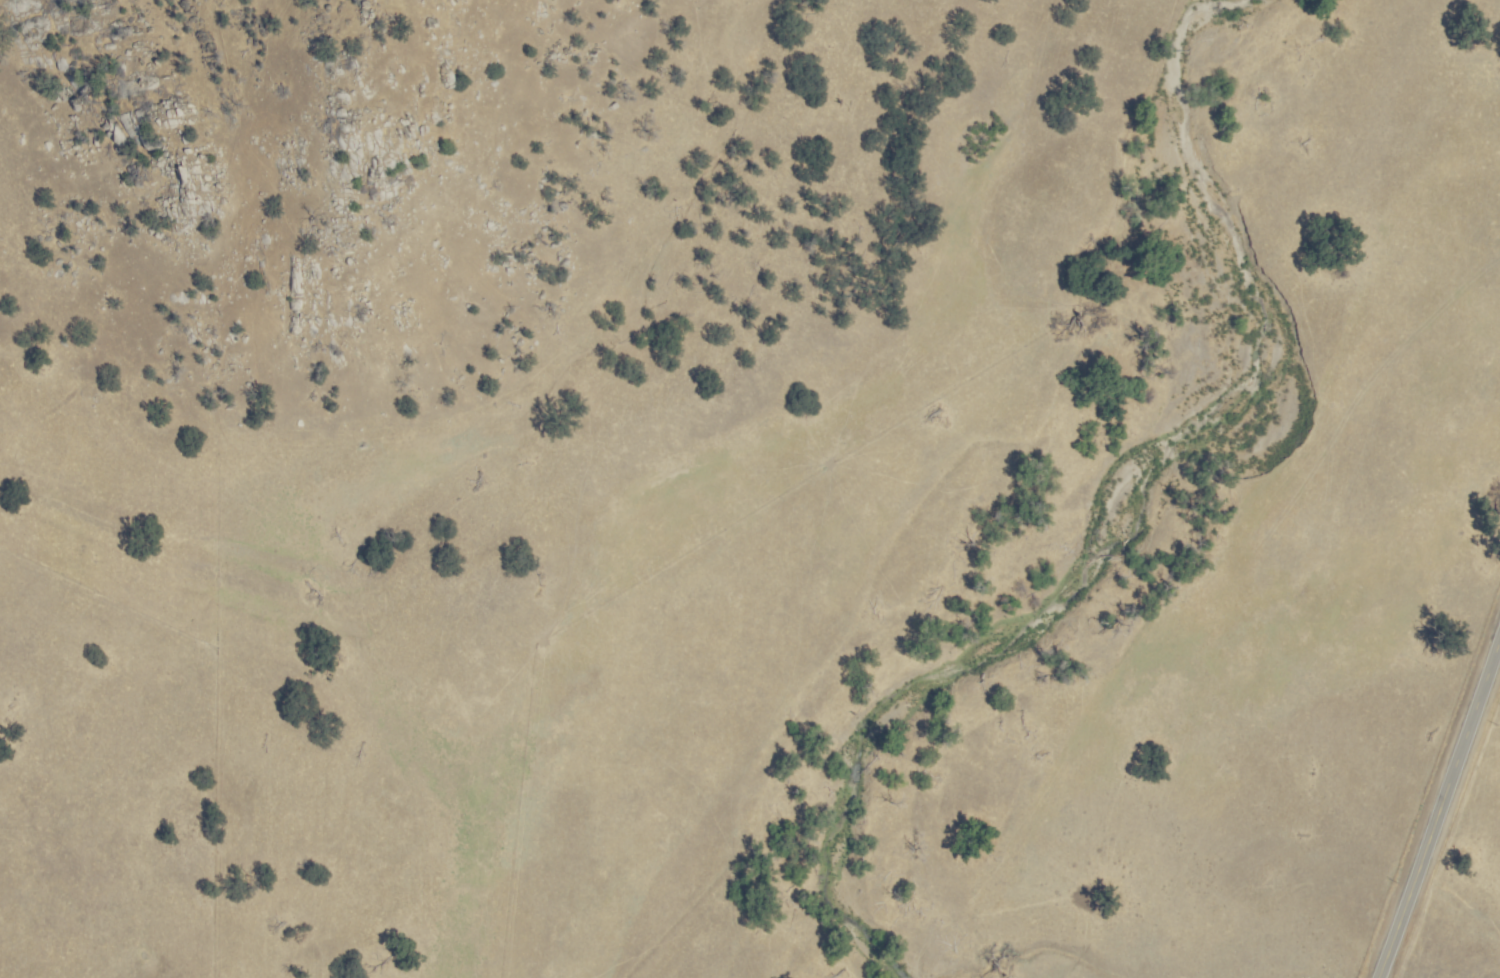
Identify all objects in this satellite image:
crop: (512, 495)
crop: (1261, 597)
road: (1436, 815)

